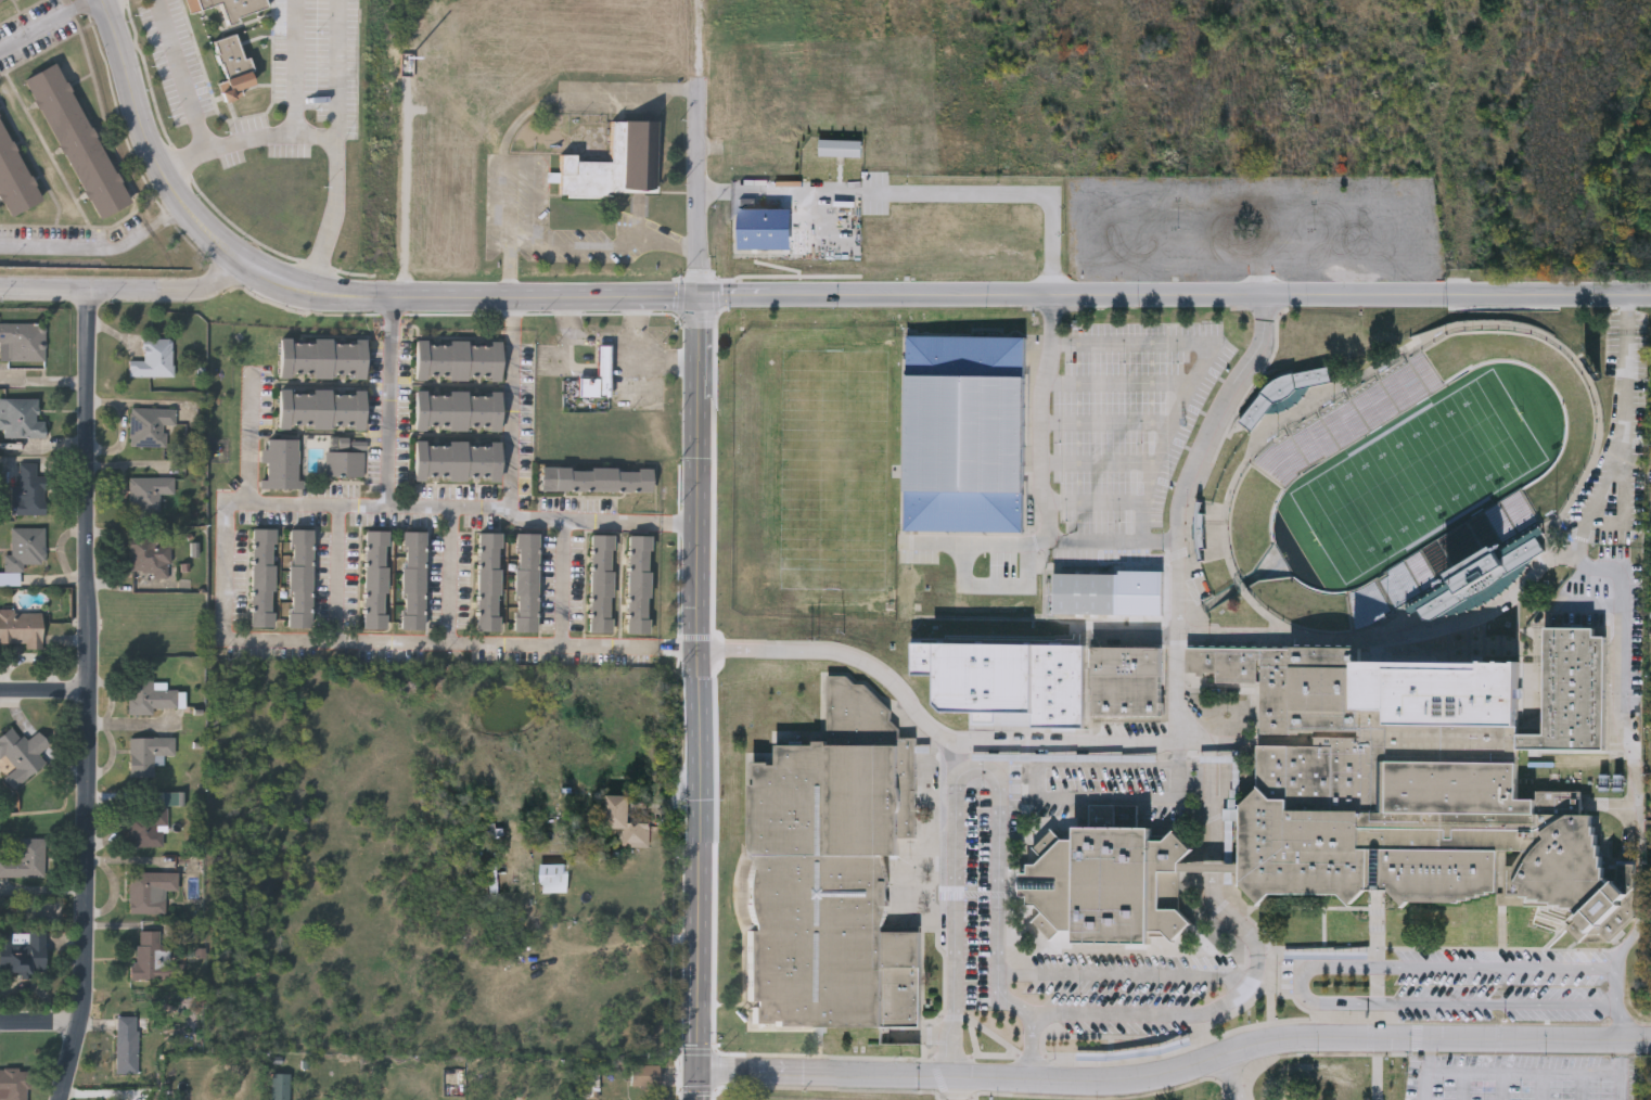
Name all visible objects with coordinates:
building: (2, 1)
building: (227, 8)
road: (48, 27)
road: (703, 51)
building: (232, 69)
road: (343, 71)
road: (185, 76)
road: (297, 137)
building: (75, 143)
road: (1438, 148)
building: (616, 166)
building: (13, 181)
road: (503, 182)
road: (340, 197)
road: (702, 199)
road: (99, 251)
road: (515, 270)
road: (126, 287)
road: (317, 291)
traffic signals: (702, 294)
road: (1176, 295)
road: (516, 312)
building: (23, 342)
building: (322, 358)
building: (153, 359)
building: (457, 360)
road: (1198, 368)
building: (597, 375)
road: (1115, 385)
road: (392, 402)
building: (320, 409)
building: (457, 410)
parking lot: (1128, 418)
building: (22, 419)
road: (514, 420)
building: (150, 425)
road: (1105, 427)
building: (968, 437)
road: (252, 439)
building: (344, 459)
building: (457, 461)
building: (280, 465)
road: (1097, 465)
park: (1416, 476)
road: (1041, 478)
building: (596, 479)
stadium: (1407, 481)
building: (29, 491)
building: (148, 493)
road: (1093, 499)
road: (1626, 508)
road: (631, 524)
building: (23, 553)
building: (150, 557)
road: (226, 571)
road: (338, 574)
road: (451, 577)
building: (261, 578)
building: (299, 579)
building: (374, 580)
building: (411, 580)
building: (1482, 580)
building: (487, 583)
building: (524, 583)
building: (600, 585)
building: (637, 585)
road: (562, 586)
building: (1088, 597)
road: (1513, 598)
building: (22, 628)
road: (631, 649)
road: (1622, 662)
building: (1128, 681)
road: (43, 685)
park: (1007, 688)
road: (86, 694)
building: (150, 696)
road: (702, 696)
road: (1153, 740)
building: (149, 754)
building: (22, 755)
road: (980, 772)
building: (1423, 778)
road: (1612, 805)
building: (627, 820)
building: (149, 828)
building: (26, 860)
building: (833, 874)
building: (553, 878)
building: (492, 881)
building: (1110, 887)
road: (1211, 890)
building: (151, 892)
road: (1639, 892)
road: (1307, 909)
road: (1528, 913)
road: (1536, 921)
road: (1257, 929)
road: (1323, 929)
road: (1441, 948)
building: (23, 951)
road: (1277, 956)
building: (153, 957)
road: (1124, 976)
road: (1303, 985)
parking lot: (1446, 986)
parking lot: (1136, 995)
road: (1614, 1007)
road: (1138, 1016)
road: (40, 1024)
road: (974, 1035)
road: (1369, 1039)
road: (1498, 1039)
building: (127, 1045)
road: (1430, 1069)
road: (1621, 1070)
road: (1178, 1071)
traffic signals: (702, 1072)
road: (1525, 1073)
building: (644, 1074)
road: (1243, 1074)
road: (927, 1075)
parking lot: (1523, 1078)
building: (592, 1083)
building: (13, 1084)
building: (281, 1086)
road: (955, 1089)

